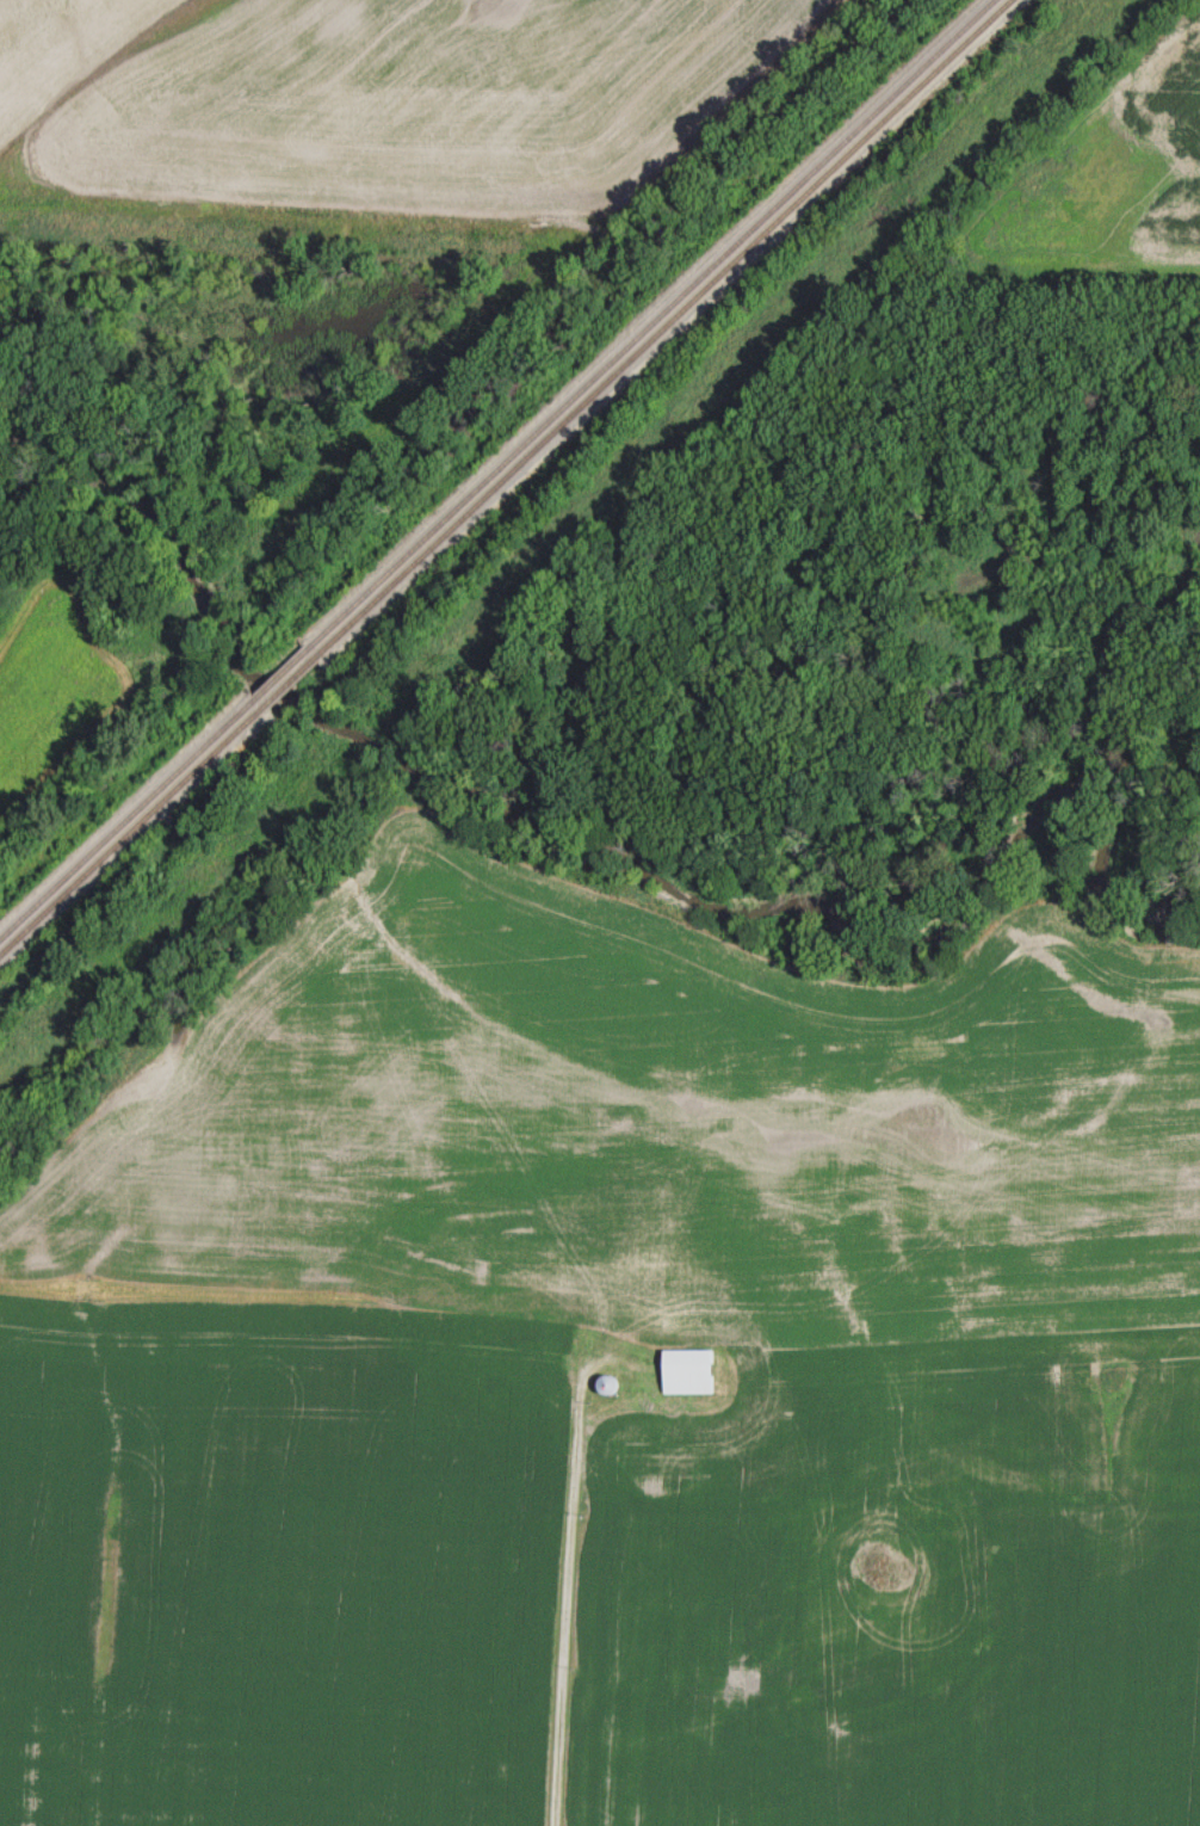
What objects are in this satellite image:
railway: (655, 322)
railway: (669, 325)
railway: (283, 673)
railway: (293, 680)
railway: (128, 821)
railway: (130, 837)
building: (689, 1370)
building: (610, 1383)
road: (568, 1587)

